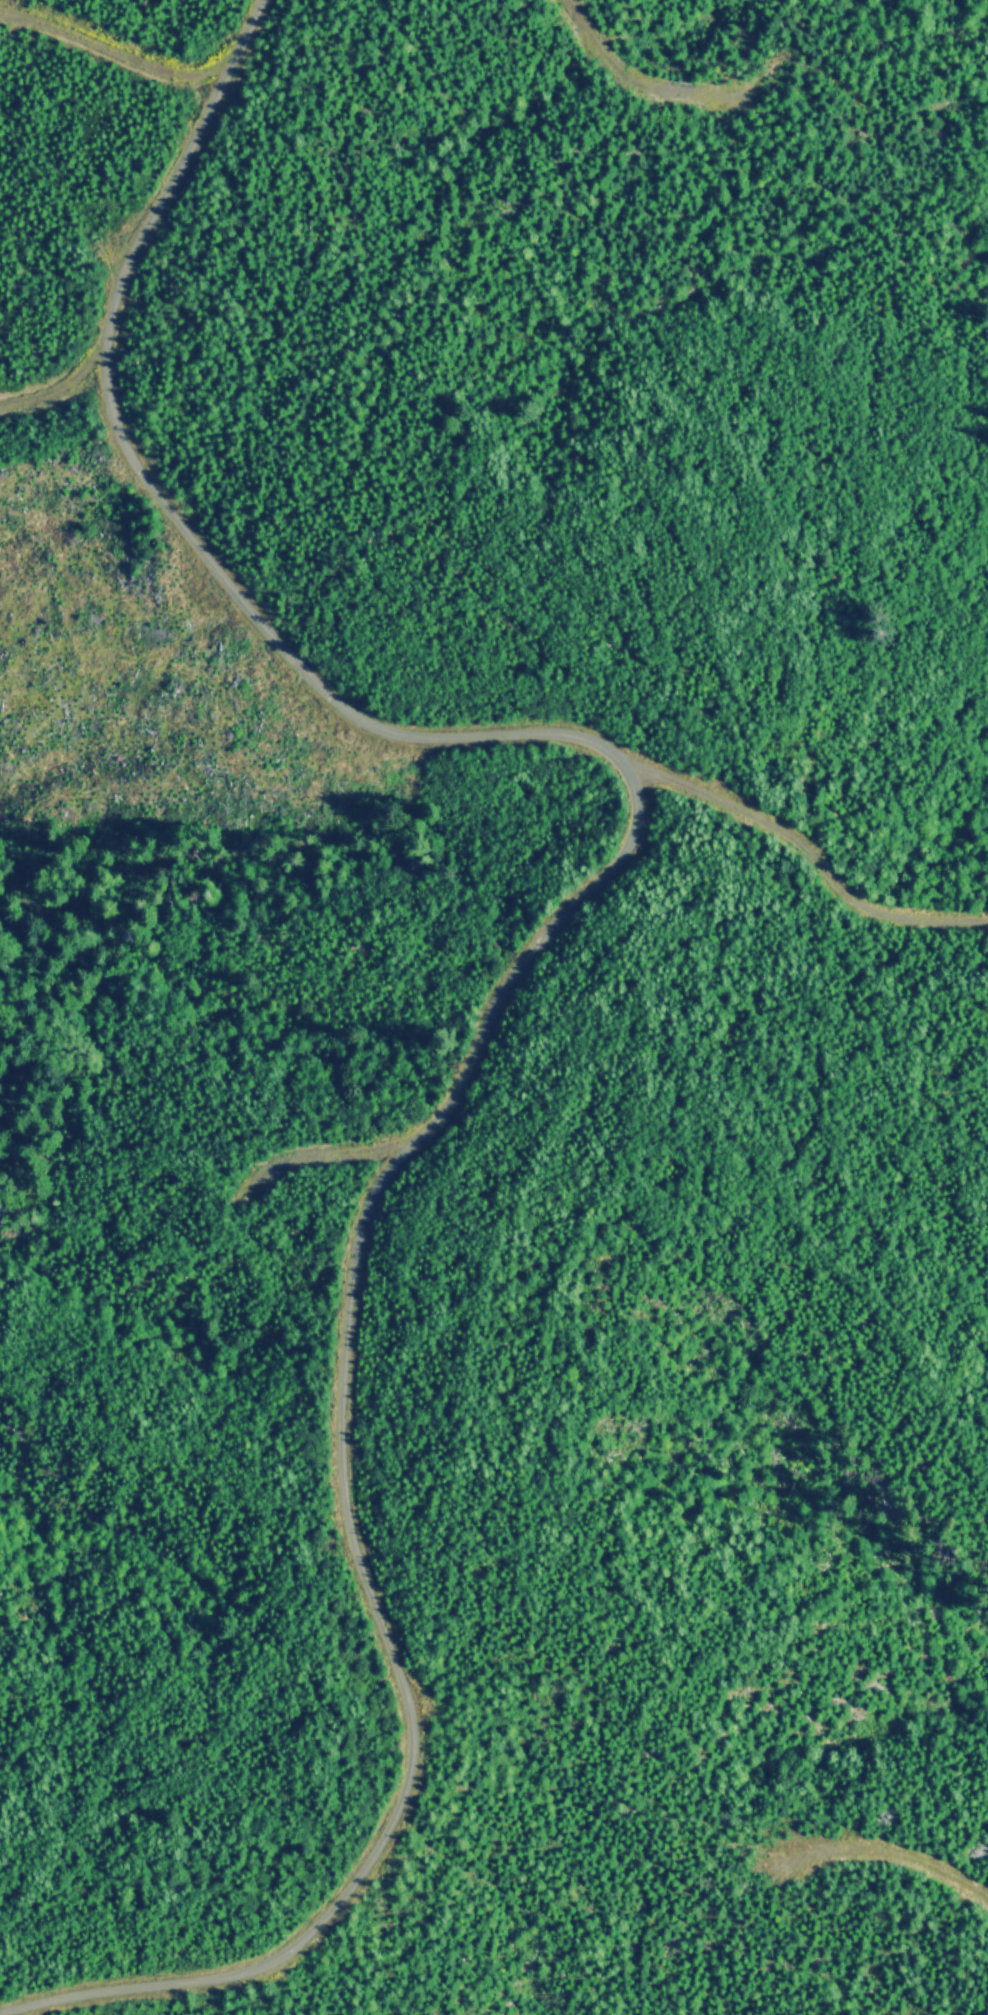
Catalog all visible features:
road: (804, 830)
road: (494, 991)

